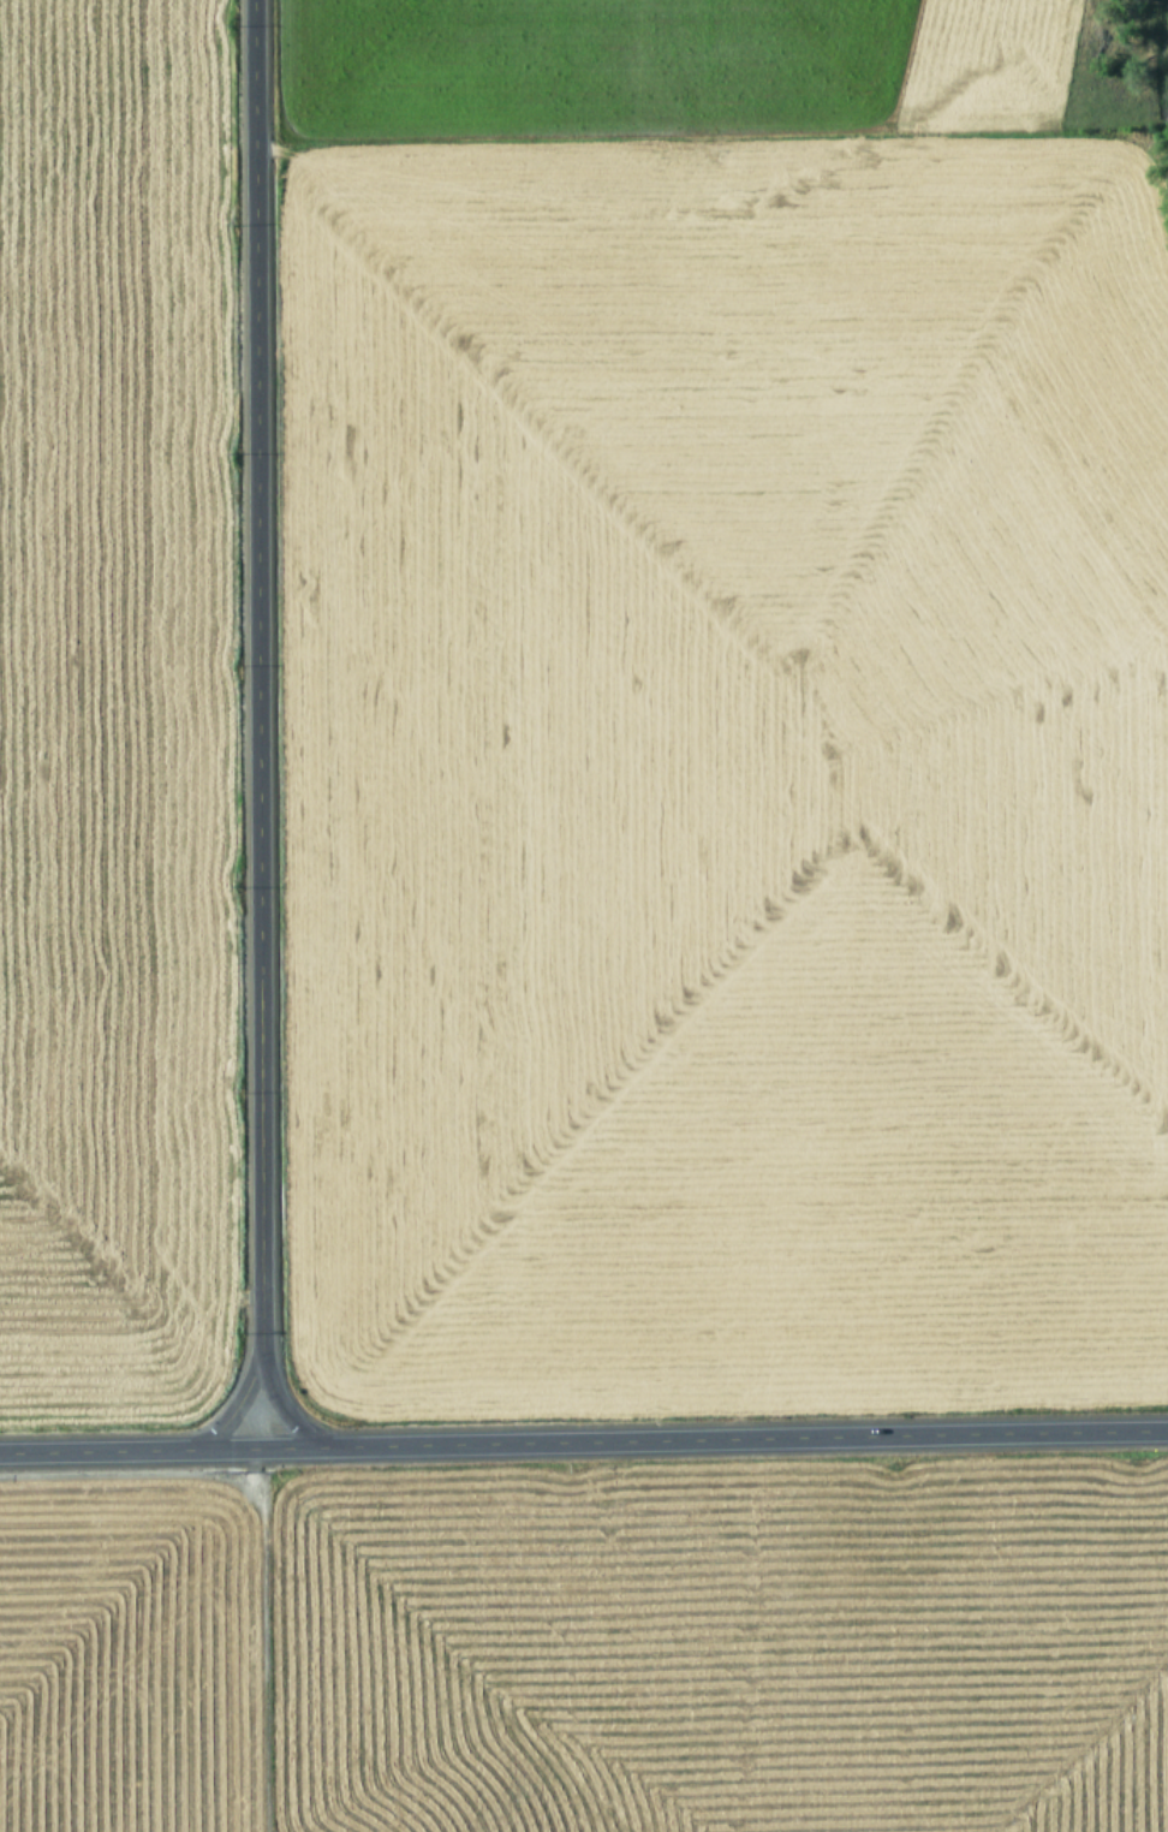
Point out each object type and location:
crop: (726, 695)
crop: (105, 698)
road: (255, 722)
road: (583, 1440)

